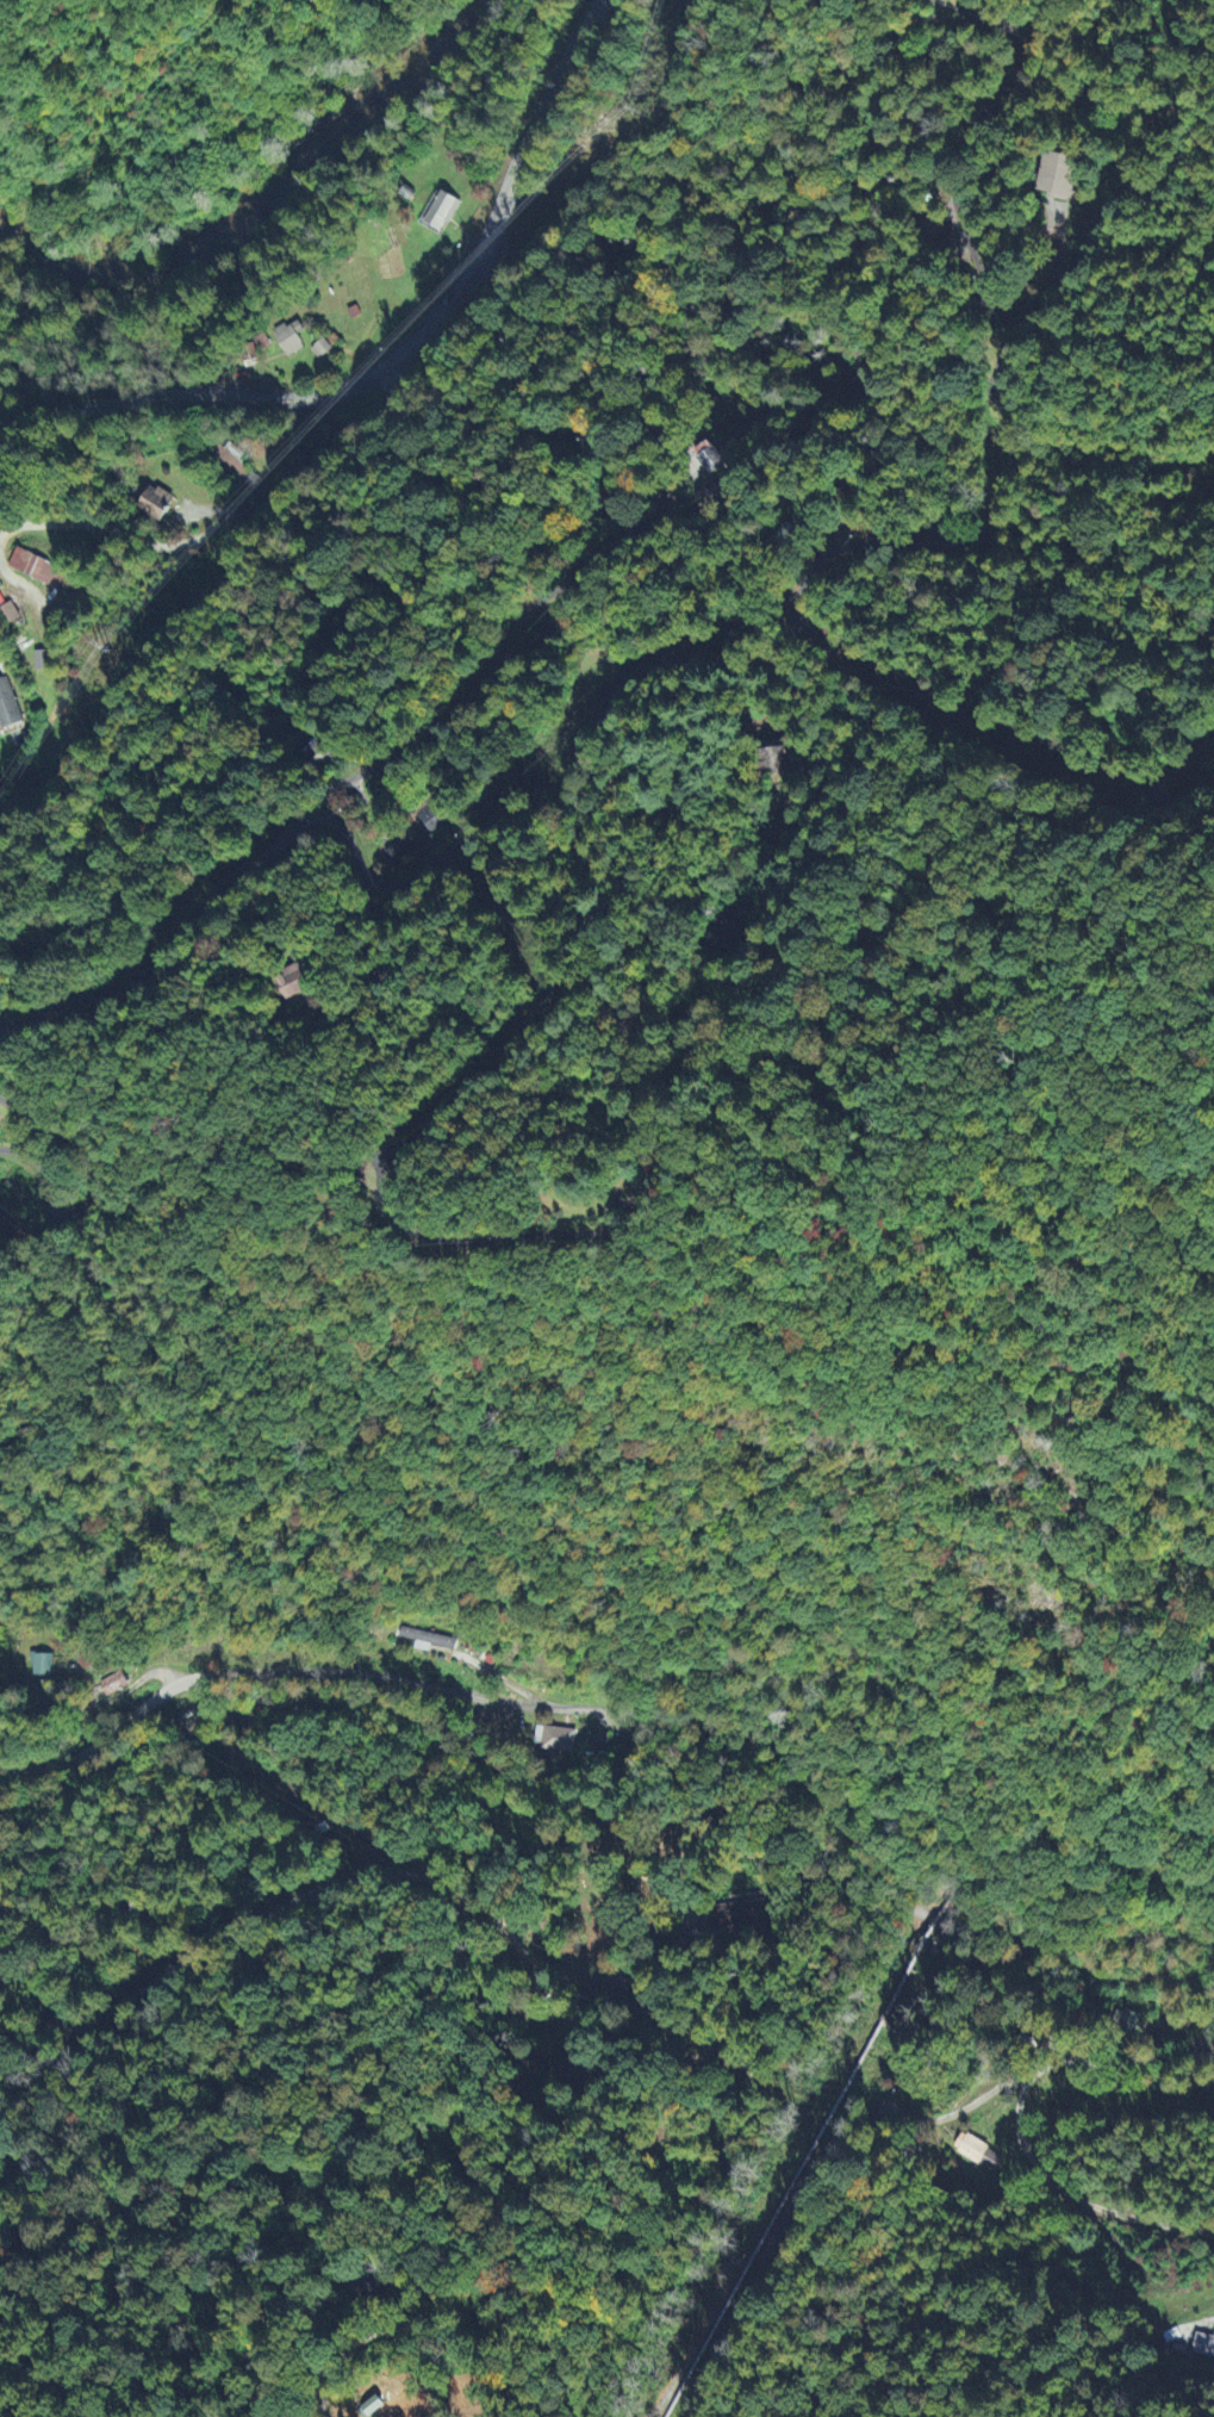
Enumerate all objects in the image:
building: (1057, 178)
river: (272, 206)
building: (437, 209)
building: (290, 340)
building: (319, 352)
road: (401, 358)
building: (710, 459)
building: (232, 468)
road: (701, 489)
building: (154, 505)
road: (231, 521)
building: (39, 572)
building: (8, 616)
building: (41, 663)
road: (714, 669)
building: (7, 709)
building: (773, 759)
road: (1157, 787)
building: (417, 834)
building: (292, 984)
road: (568, 1004)
road: (91, 1192)
building: (427, 1642)
building: (41, 1667)
road: (494, 1674)
building: (112, 1686)
road: (621, 1719)
building: (554, 1741)
road: (130, 1788)
road: (80, 1849)
road: (372, 1877)
building: (742, 1915)
building: (1127, 2025)
building: (977, 2155)
road: (386, 2332)
building: (371, 2409)

